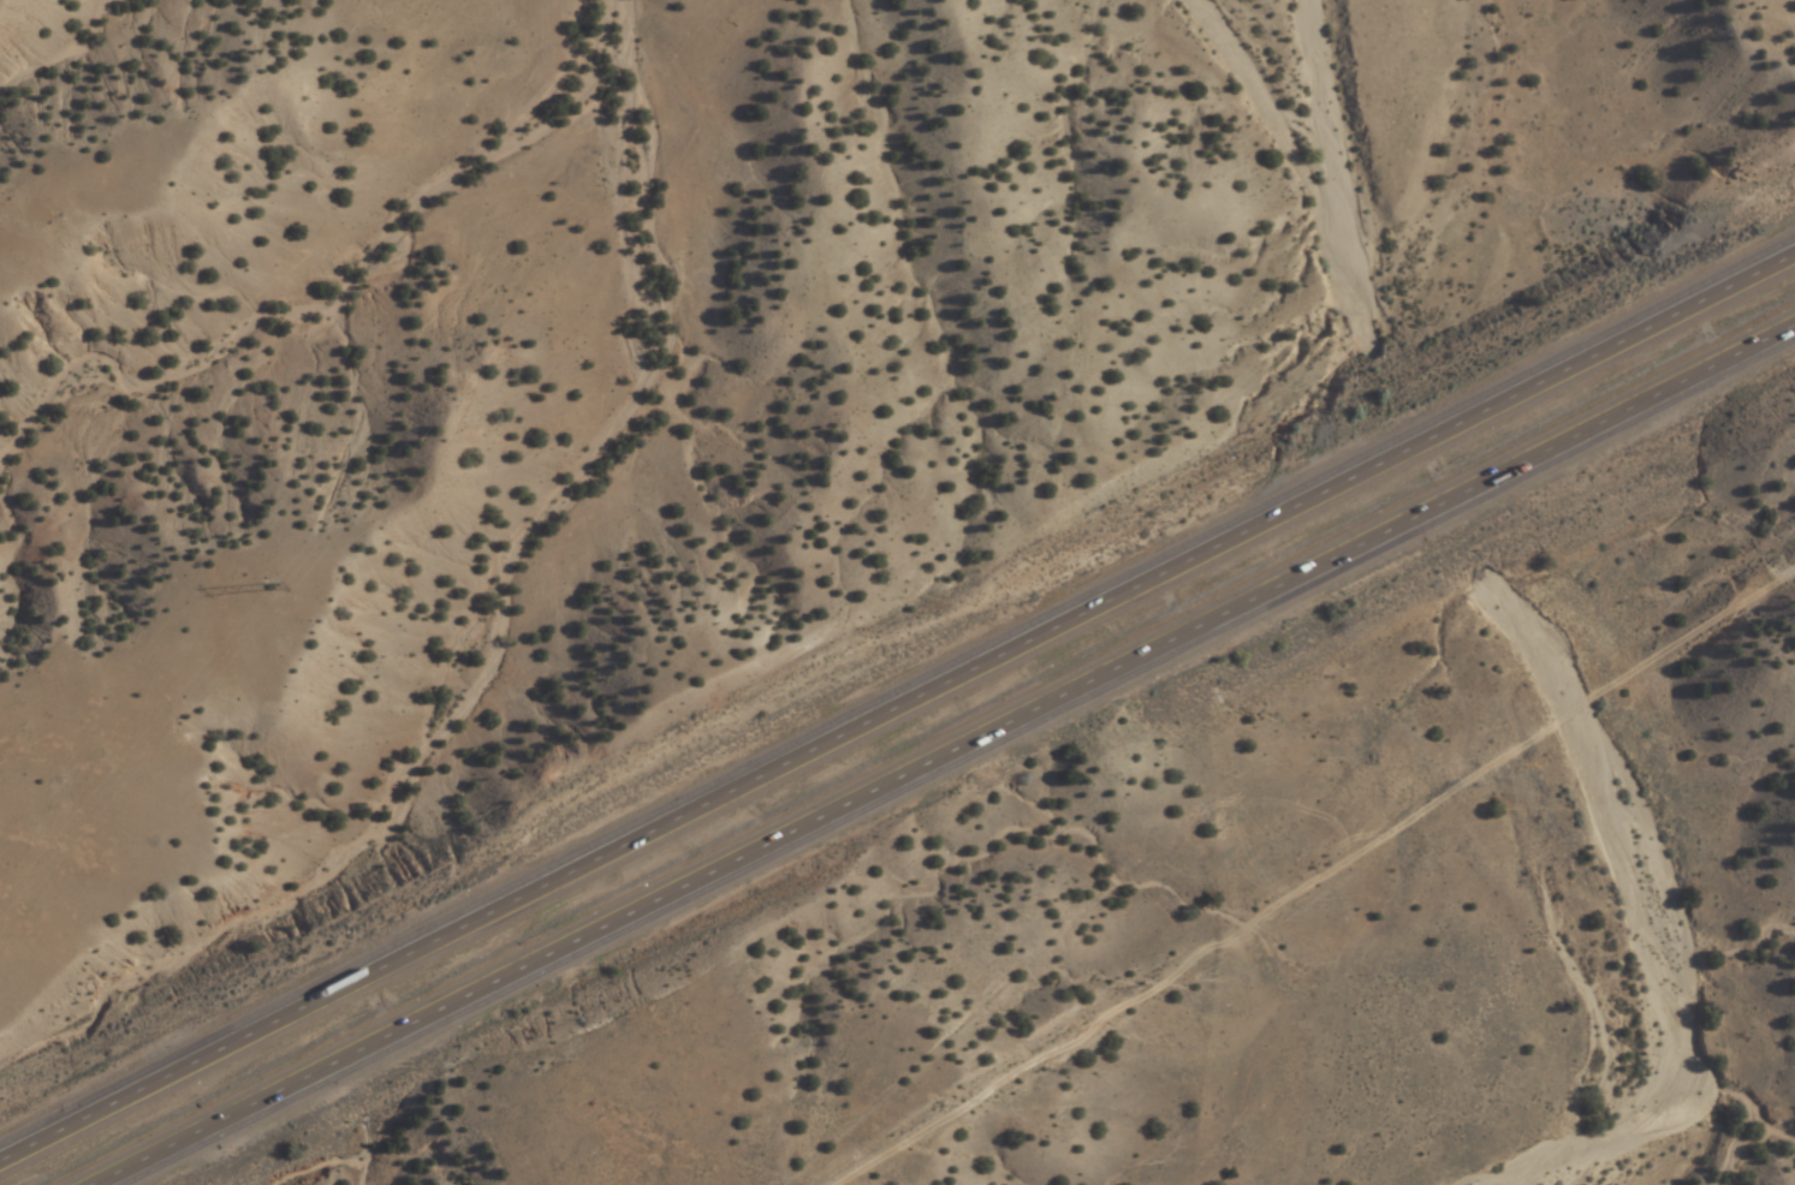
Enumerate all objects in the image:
road: (896, 711)
road: (939, 755)

